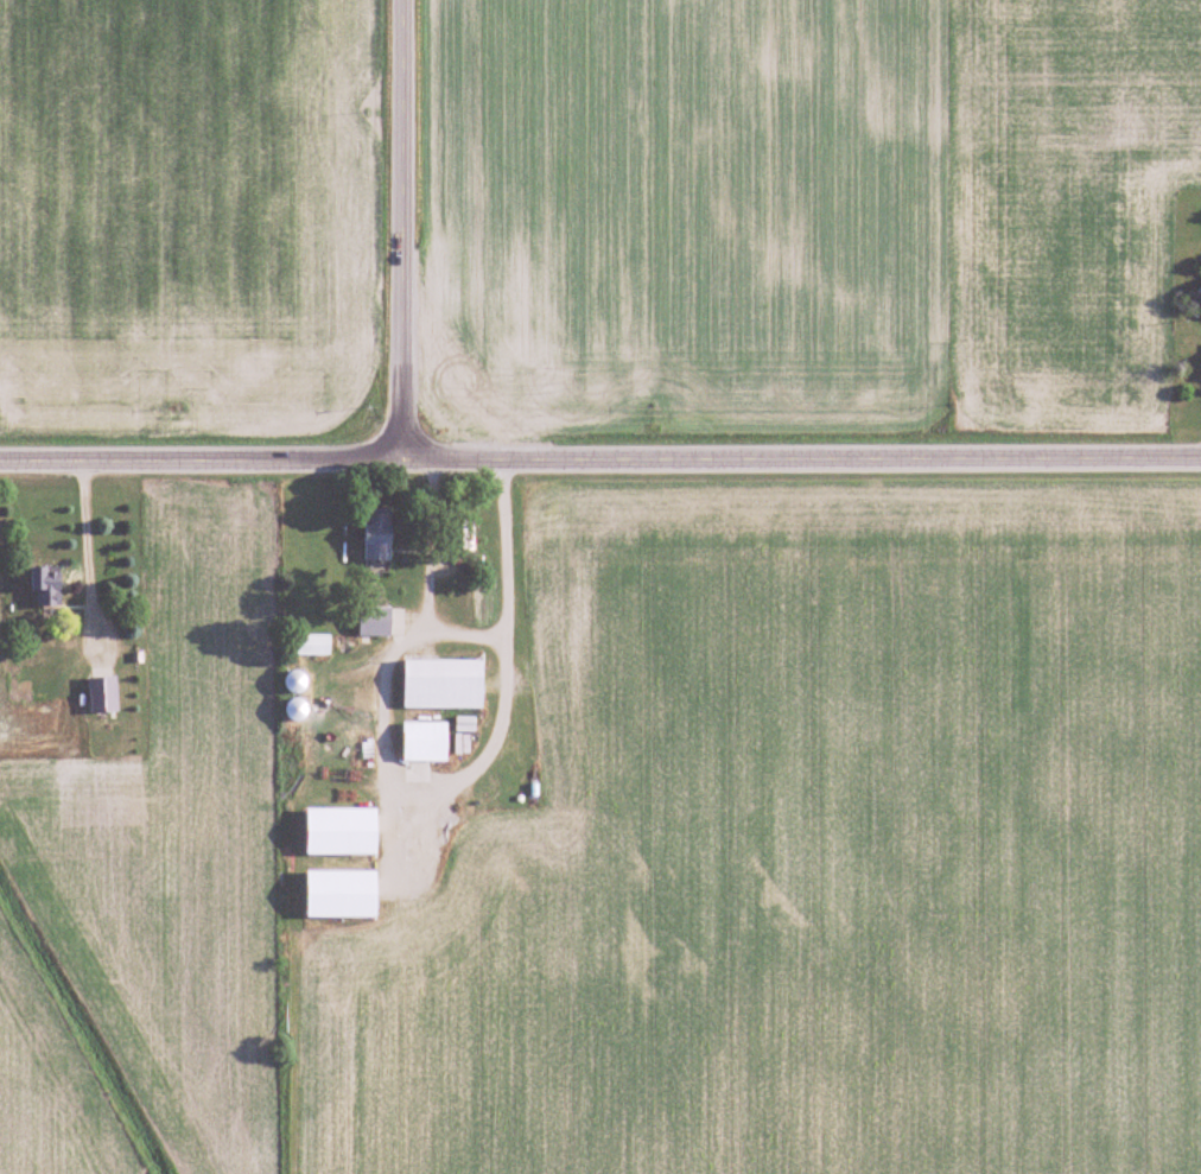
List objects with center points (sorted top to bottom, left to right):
road: (401, 230)
road: (600, 459)
building: (377, 538)
road: (81, 542)
building: (46, 586)
building: (375, 622)
road: (468, 637)
building: (312, 647)
building: (297, 683)
building: (444, 685)
building: (103, 696)
building: (298, 710)
building: (425, 742)
building: (342, 832)

